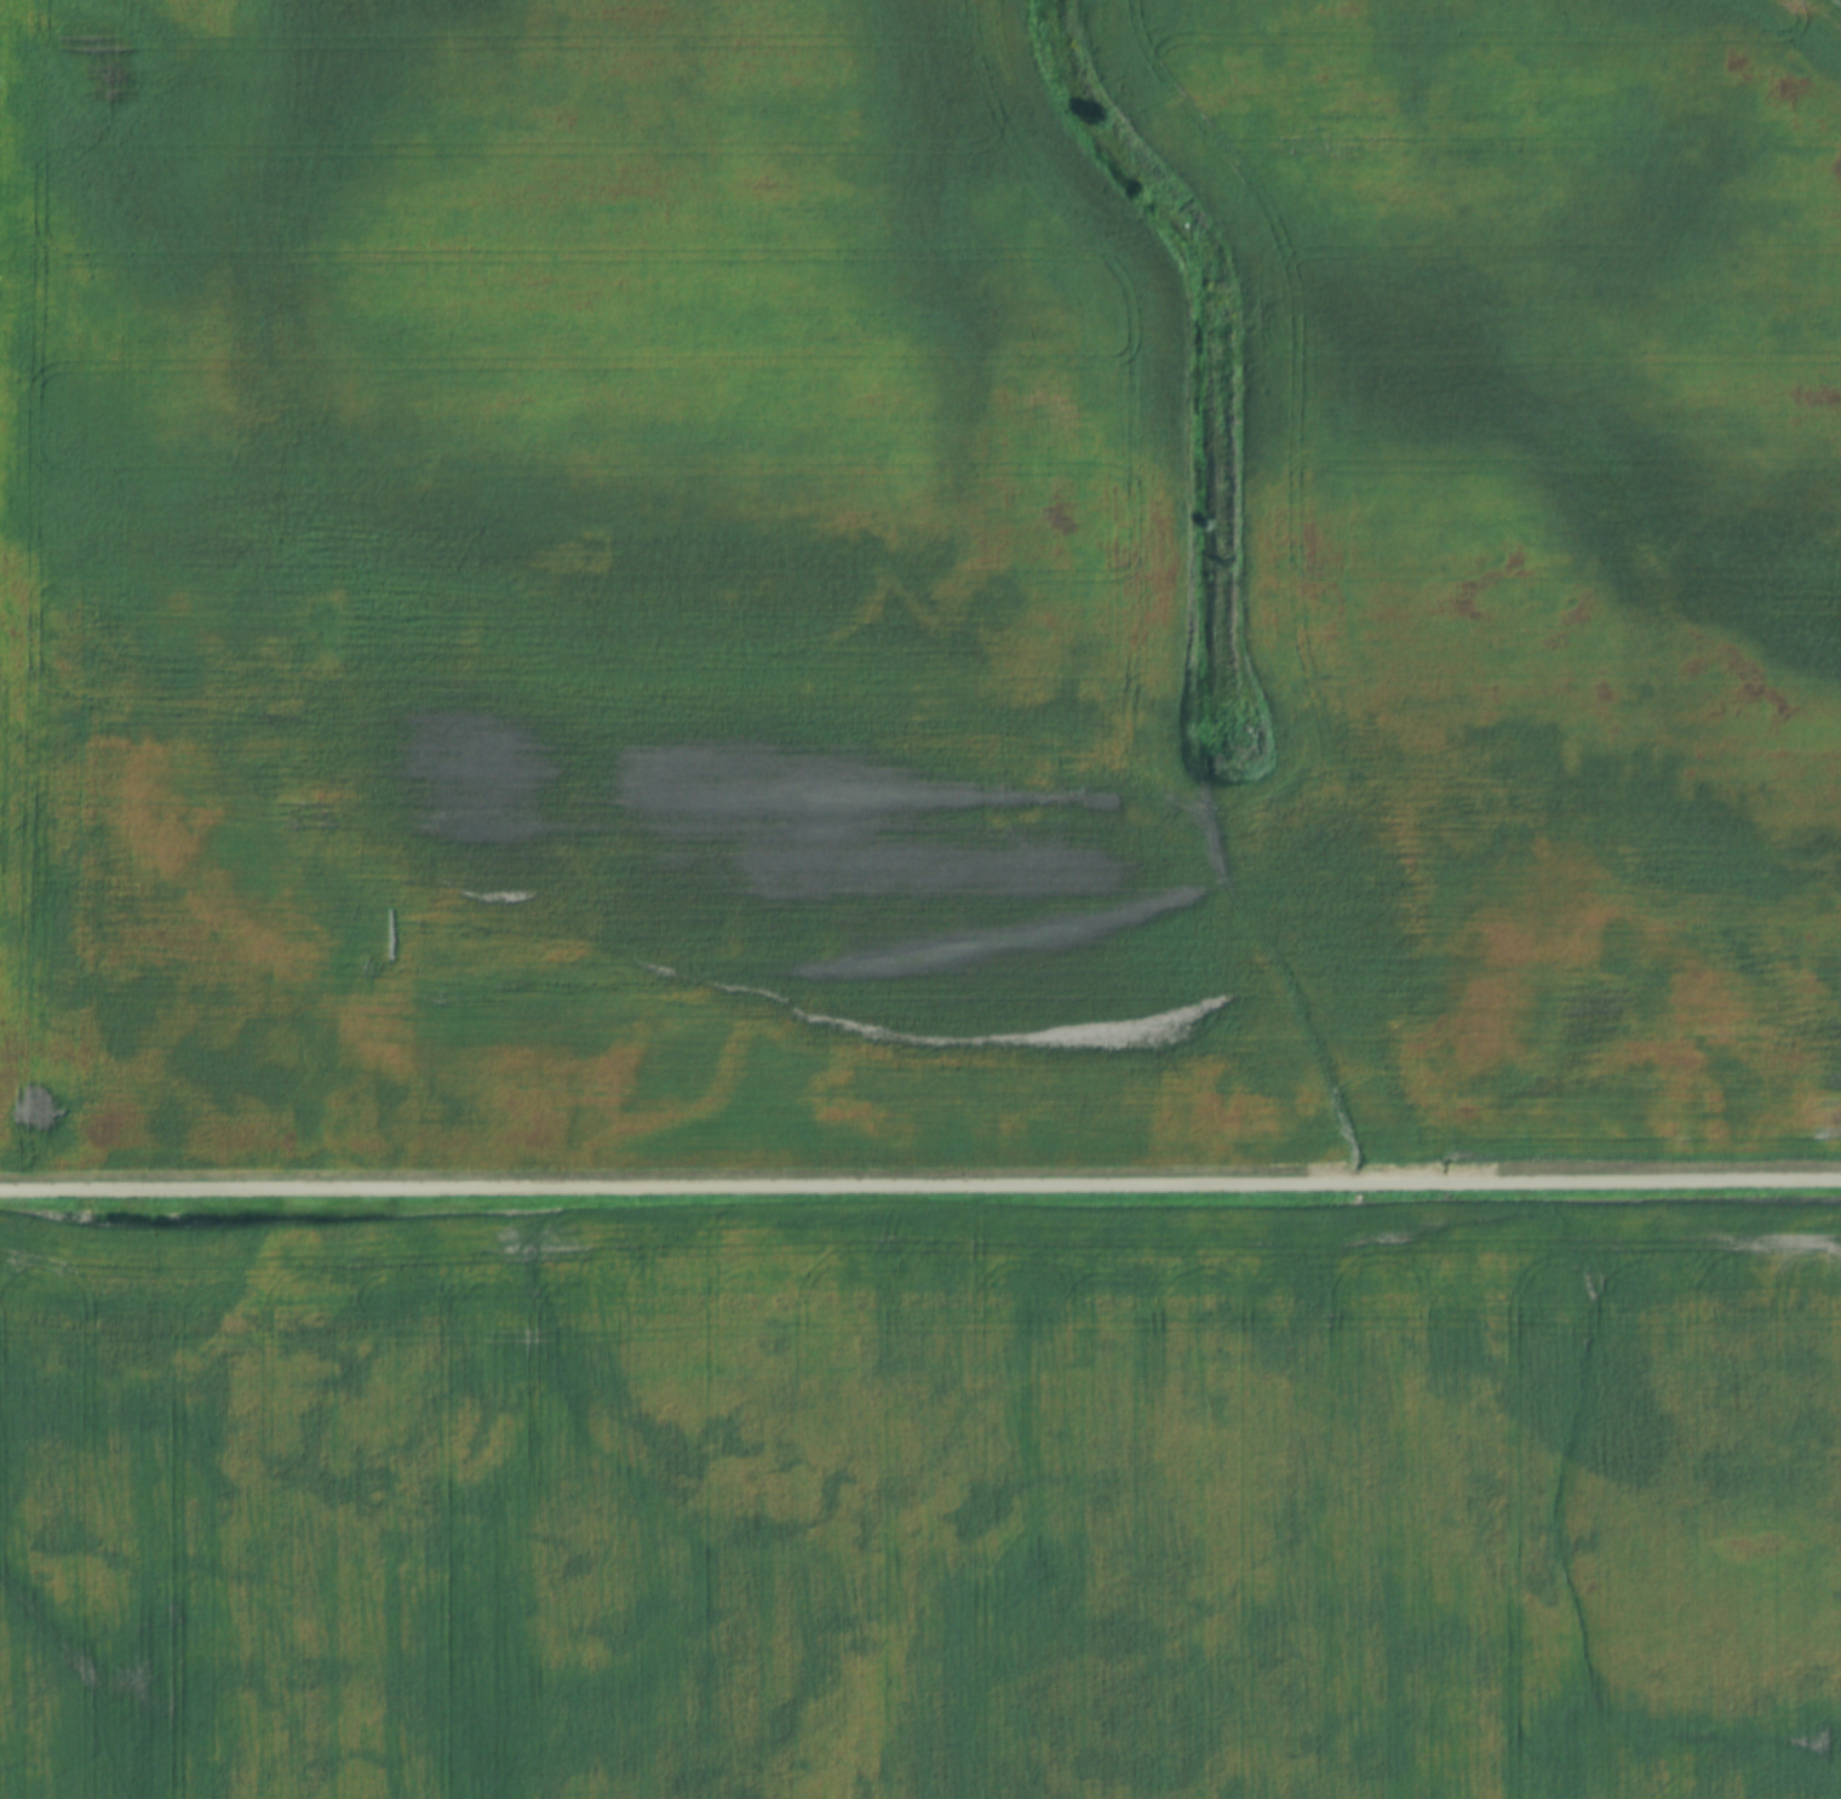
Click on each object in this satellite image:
road: (920, 1191)

